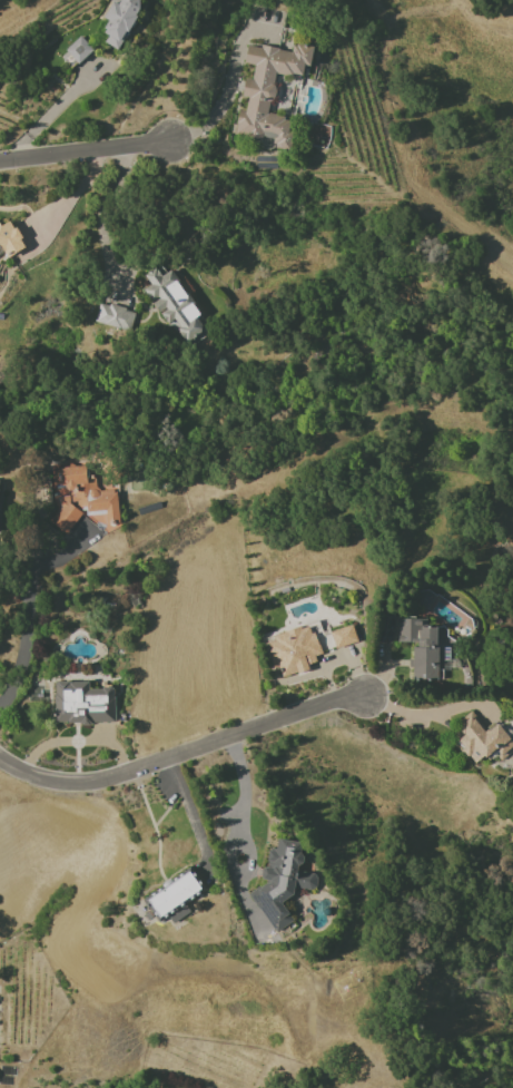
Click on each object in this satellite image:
building: (121, 19)
building: (80, 49)
road: (228, 87)
building: (272, 89)
road: (53, 109)
road: (87, 151)
road: (70, 195)
road: (99, 219)
building: (11, 237)
building: (174, 302)
building: (115, 316)
building: (83, 498)
road: (24, 609)
building: (343, 636)
building: (424, 646)
building: (293, 650)
building: (82, 703)
road: (424, 716)
building: (481, 738)
road: (180, 753)
road: (245, 800)
road: (189, 813)
building: (282, 881)
building: (174, 894)

